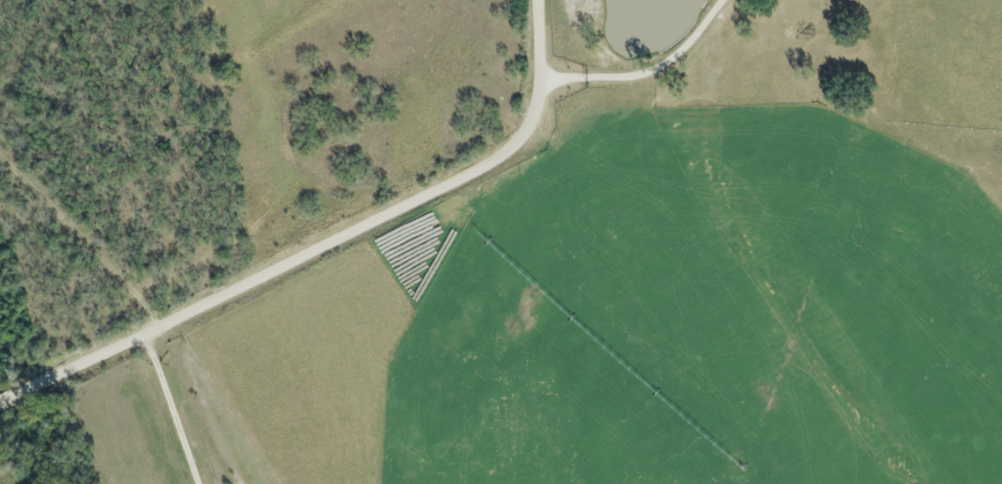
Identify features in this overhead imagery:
road: (646, 63)
road: (338, 238)
road: (12, 397)
road: (175, 407)
river: (20, 451)

